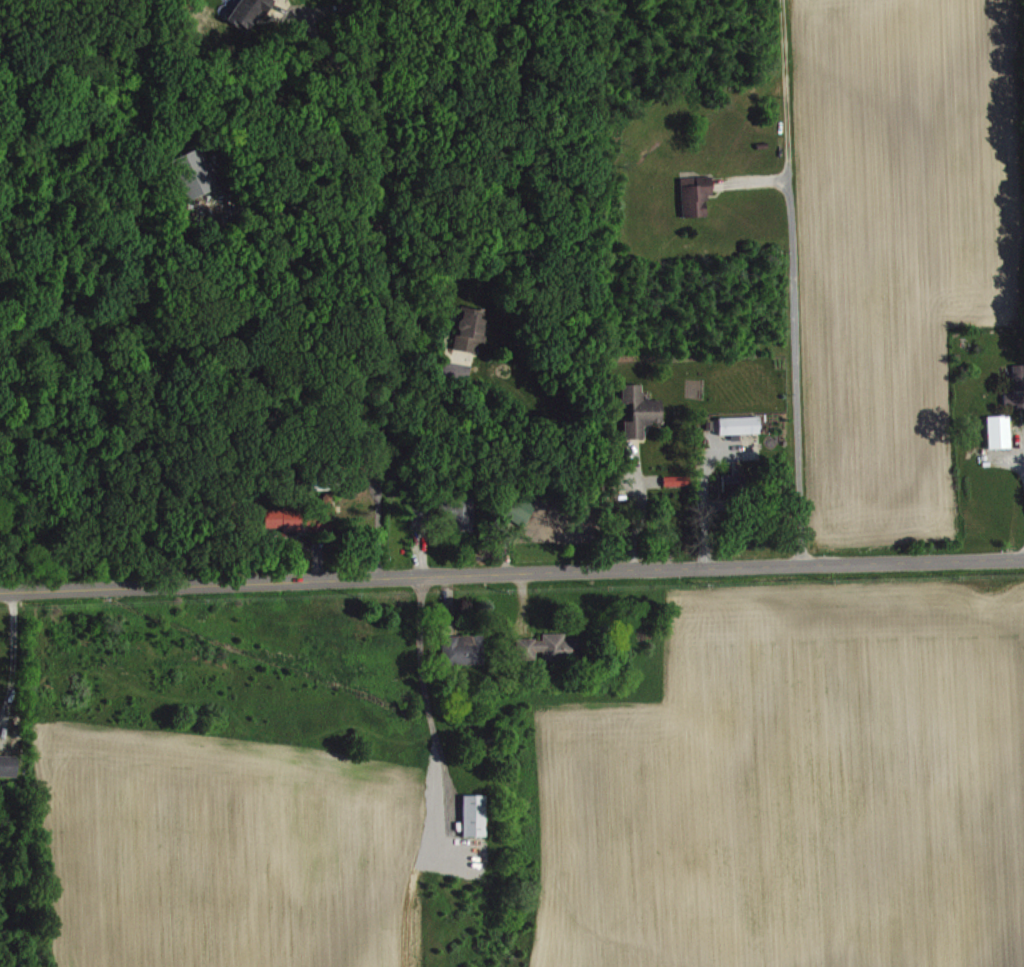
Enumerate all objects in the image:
building: (249, 12)
building: (196, 172)
building: (697, 195)
road: (797, 284)
road: (379, 290)
building: (472, 329)
building: (1018, 388)
building: (641, 410)
building: (741, 425)
building: (1001, 431)
building: (679, 480)
building: (736, 482)
road: (703, 508)
building: (524, 510)
building: (465, 512)
road: (638, 512)
building: (301, 517)
building: (421, 517)
road: (511, 576)
building: (552, 647)
building: (465, 649)
road: (16, 656)
road: (427, 681)
building: (9, 765)
building: (476, 815)

